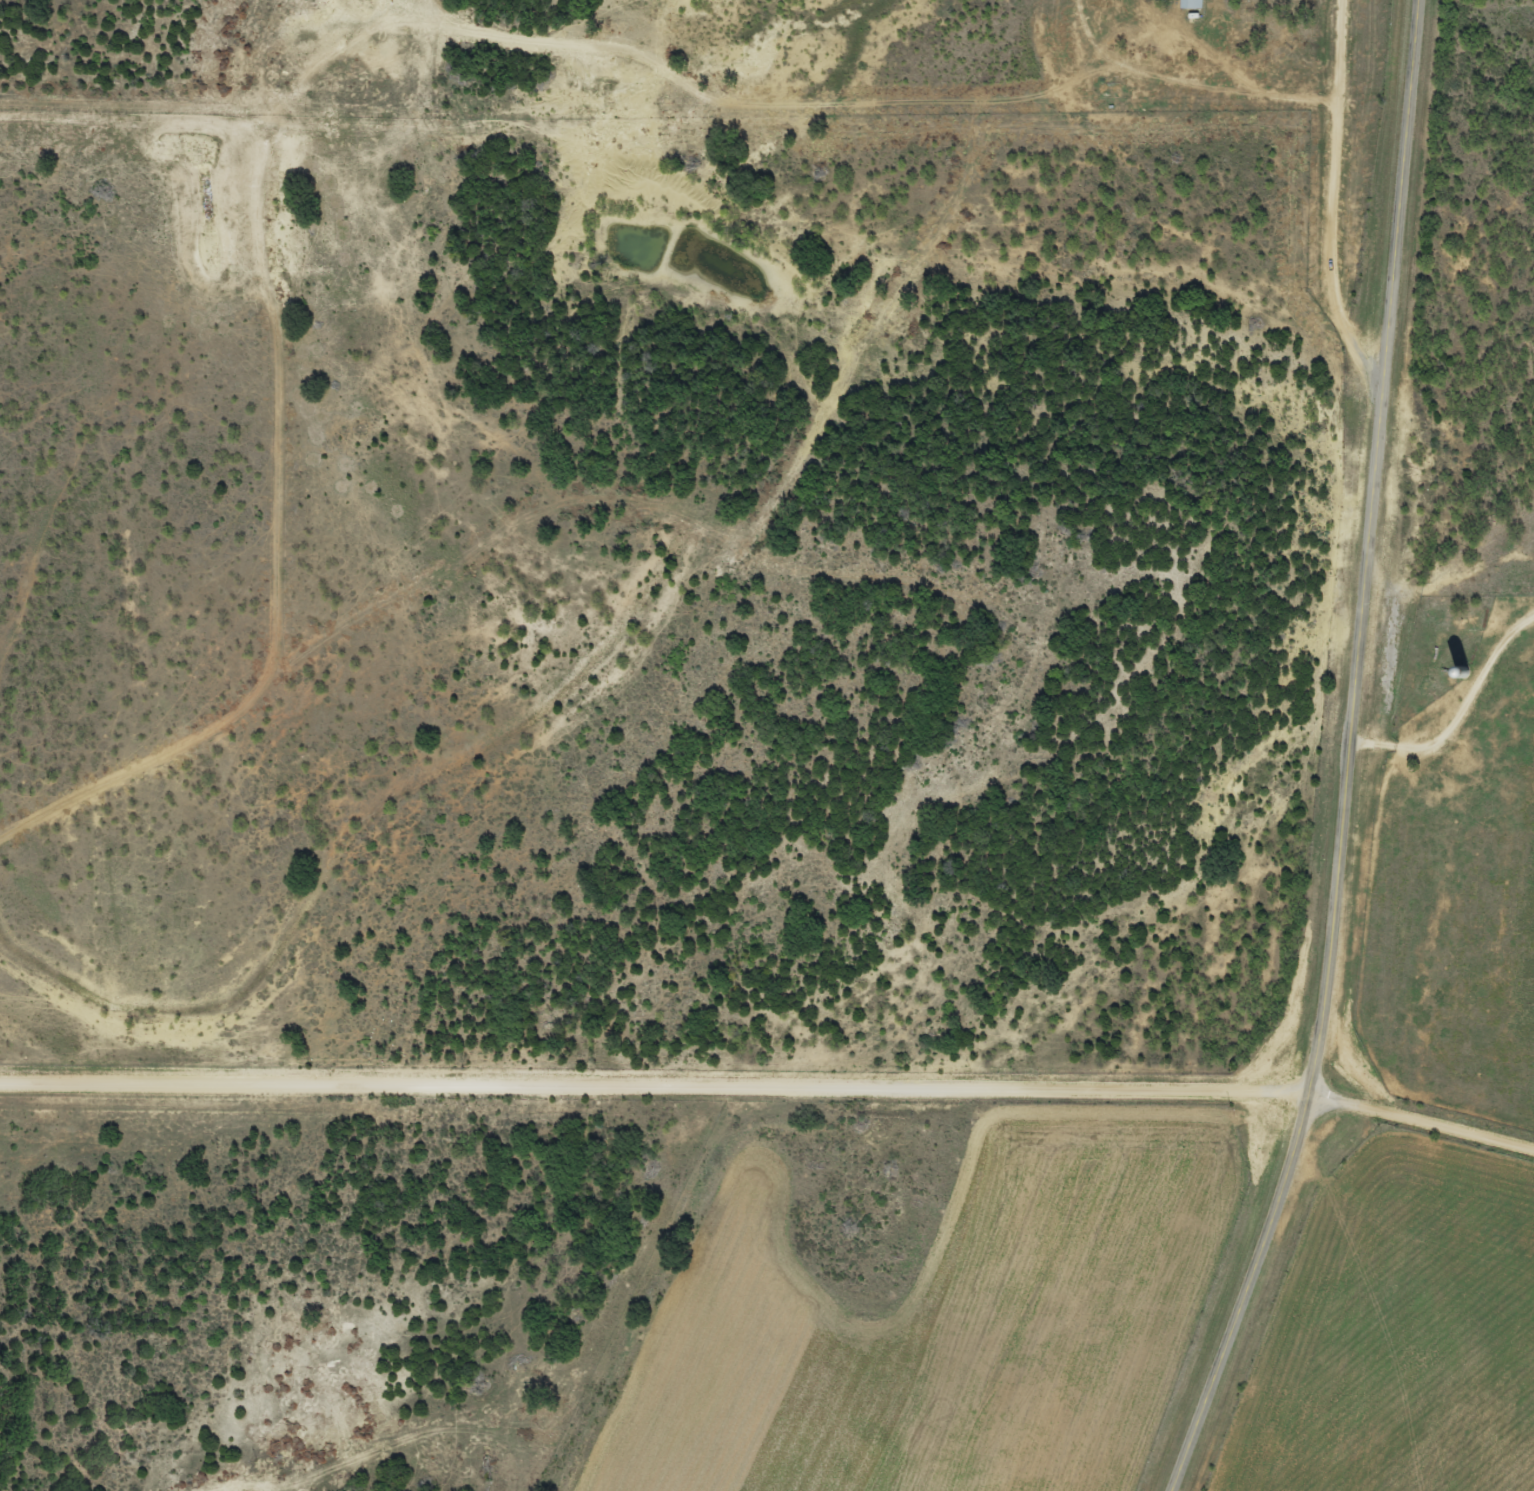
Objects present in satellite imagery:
building: (1191, 5)
road: (1207, 74)
road: (1336, 197)
road: (1351, 756)
road: (770, 1111)

